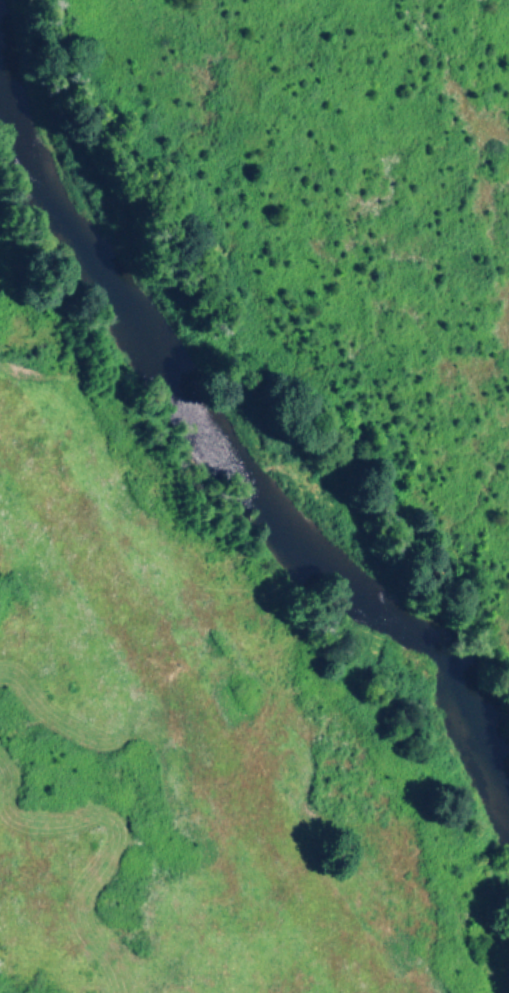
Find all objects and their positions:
river: (230, 455)

